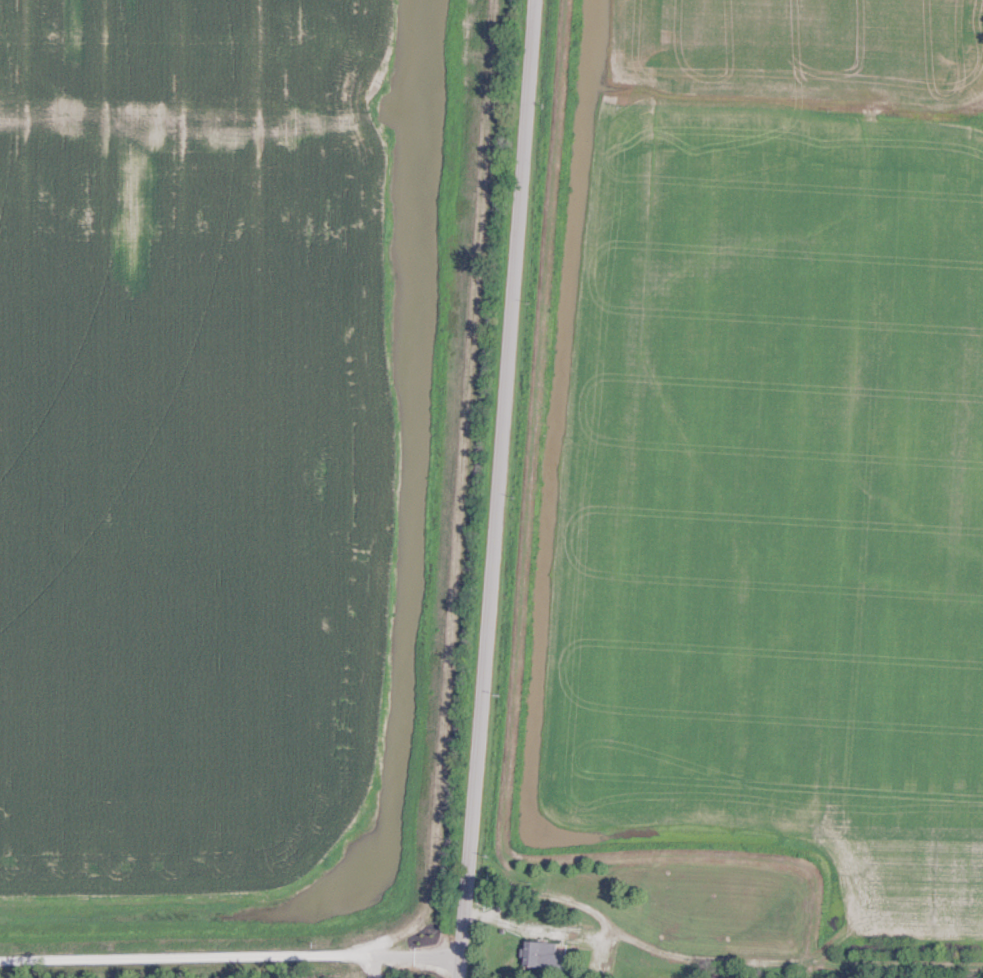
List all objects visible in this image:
road: (494, 489)
building: (543, 955)
road: (229, 957)

